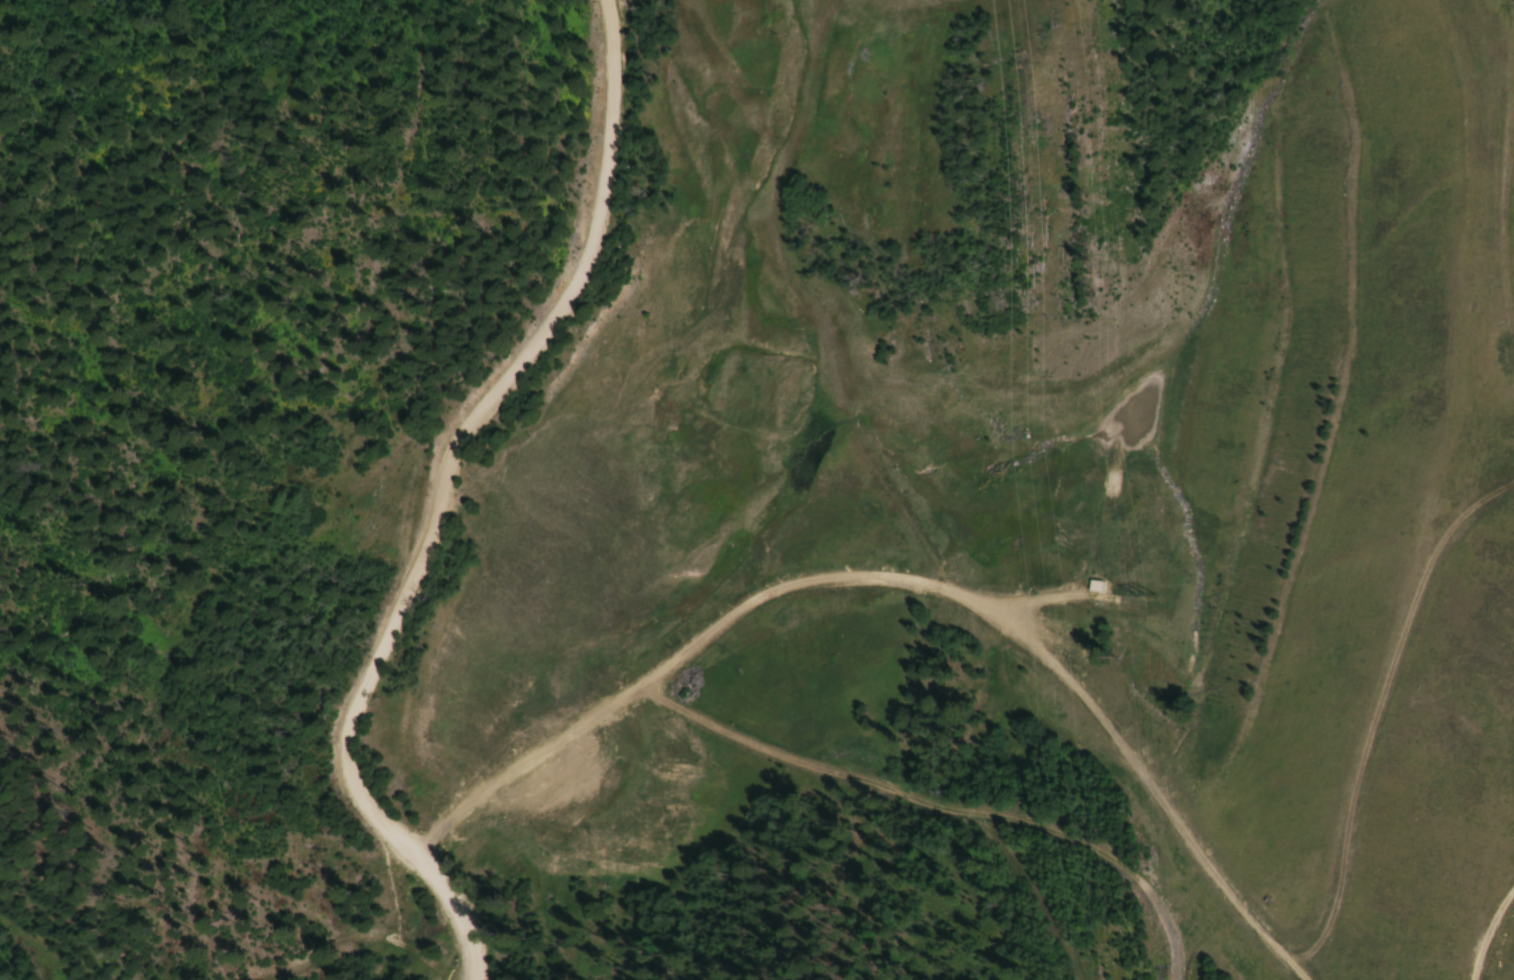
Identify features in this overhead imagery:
road: (440, 498)

